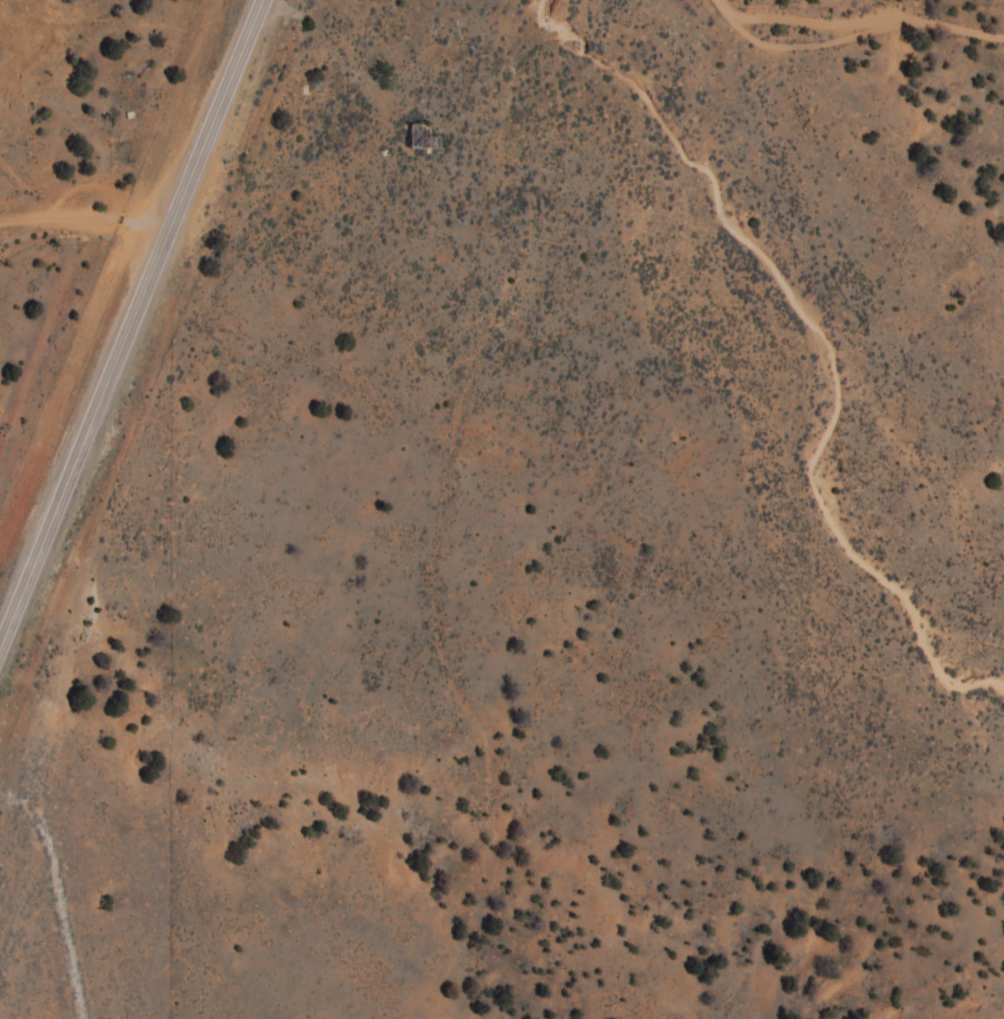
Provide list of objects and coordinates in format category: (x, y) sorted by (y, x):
building: (421, 138)
road: (134, 322)

